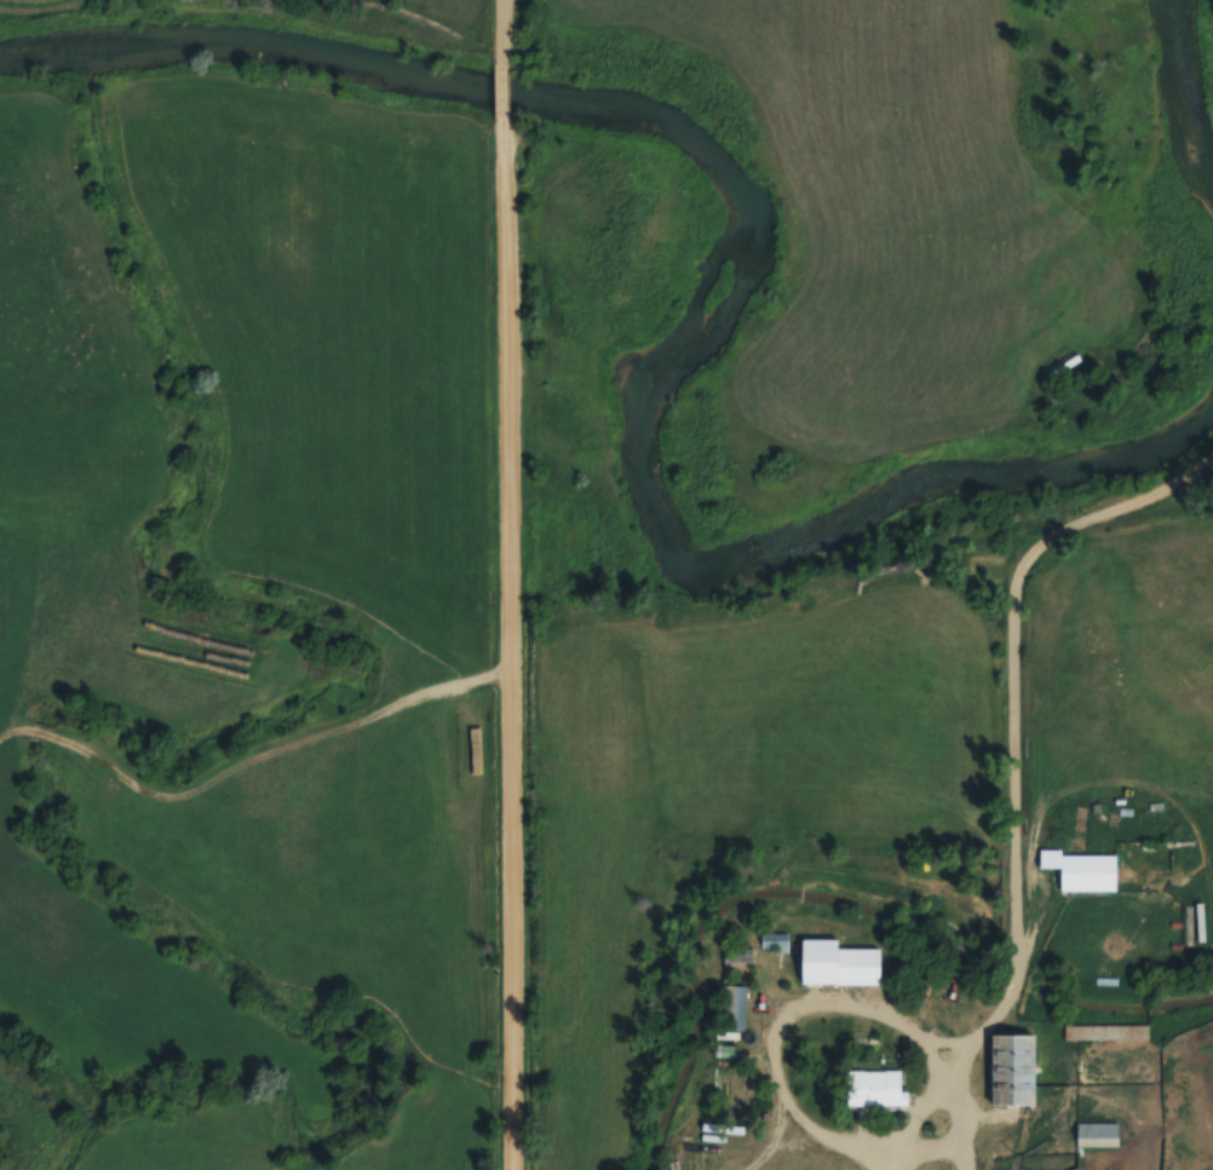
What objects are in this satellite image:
road: (501, 33)
road: (501, 88)
river: (1186, 105)
river: (725, 304)
road: (508, 641)
building: (471, 742)
building: (1088, 874)
building: (774, 941)
building: (839, 964)
building: (734, 1008)
building: (1106, 1033)
building: (1013, 1072)
building: (875, 1088)
building: (736, 1129)
building: (1097, 1135)

